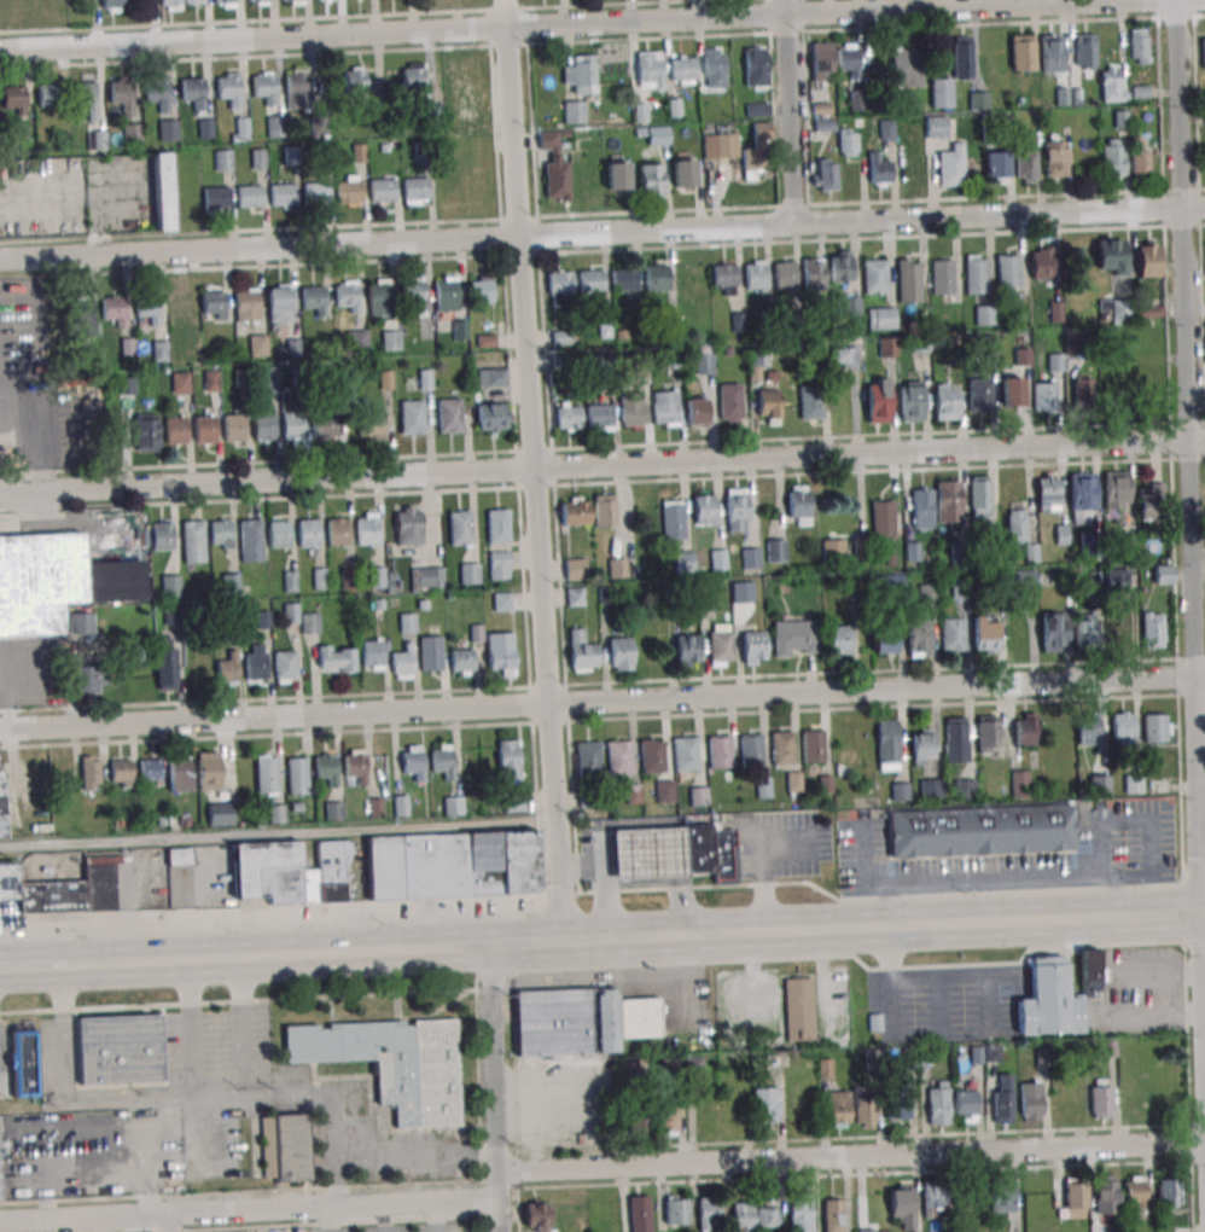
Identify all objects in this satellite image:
building: (193, 2)
building: (223, 2)
building: (257, 2)
building: (292, 2)
building: (111, 5)
building: (169, 5)
road: (587, 23)
building: (1139, 46)
building: (1084, 50)
building: (1021, 52)
building: (1203, 52)
building: (1050, 53)
building: (962, 57)
building: (848, 60)
building: (822, 62)
building: (756, 66)
building: (906, 66)
building: (715, 68)
building: (683, 69)
building: (650, 70)
building: (581, 74)
building: (413, 76)
building: (1112, 77)
building: (357, 80)
building: (264, 86)
building: (229, 87)
building: (296, 88)
building: (193, 91)
building: (941, 92)
building: (157, 93)
building: (47, 95)
building: (122, 95)
building: (470, 95)
building: (87, 97)
building: (14, 99)
building: (856, 99)
building: (979, 99)
road: (790, 110)
building: (574, 111)
building: (274, 126)
building: (936, 126)
building: (205, 128)
building: (167, 129)
building: (239, 129)
building: (132, 133)
building: (658, 135)
building: (97, 139)
building: (848, 143)
building: (721, 146)
building: (1139, 153)
building: (1054, 155)
building: (1112, 157)
building: (222, 161)
building: (951, 165)
building: (1026, 165)
building: (996, 167)
building: (554, 168)
building: (879, 169)
building: (683, 170)
building: (617, 173)
building: (823, 174)
building: (651, 179)
building: (349, 190)
building: (383, 190)
building: (162, 191)
building: (415, 191)
building: (316, 193)
building: (249, 196)
building: (283, 196)
building: (215, 197)
road: (601, 232)
building: (1110, 256)
building: (1148, 258)
building: (1041, 262)
building: (840, 265)
building: (1007, 271)
building: (814, 273)
building: (786, 274)
building: (976, 274)
building: (756, 275)
building: (875, 275)
building: (656, 277)
building: (942, 277)
building: (726, 278)
building: (624, 279)
building: (908, 279)
building: (592, 283)
building: (560, 284)
building: (481, 289)
building: (414, 294)
building: (348, 295)
building: (447, 295)
building: (315, 298)
building: (379, 298)
building: (280, 303)
building: (180, 304)
building: (214, 304)
building: (246, 304)
building: (851, 306)
building: (147, 308)
building: (115, 309)
building: (1147, 309)
building: (1118, 310)
building: (983, 314)
building: (85, 318)
building: (881, 318)
building: (257, 344)
building: (887, 347)
building: (161, 350)
building: (844, 358)
building: (758, 359)
building: (706, 364)
building: (493, 377)
building: (267, 379)
building: (211, 380)
building: (180, 382)
building: (127, 385)
building: (1011, 391)
building: (1082, 391)
building: (979, 394)
building: (1044, 396)
building: (878, 400)
building: (910, 401)
building: (945, 401)
building: (729, 402)
building: (811, 402)
building: (768, 406)
building: (666, 407)
building: (633, 411)
building: (697, 411)
building: (449, 415)
building: (569, 415)
building: (599, 415)
building: (412, 417)
building: (490, 417)
building: (292, 425)
building: (369, 425)
building: (263, 426)
building: (324, 426)
building: (205, 428)
building: (234, 428)
building: (176, 430)
building: (145, 431)
road: (30, 440)
road: (601, 463)
road: (536, 470)
building: (1116, 489)
building: (1047, 492)
building: (979, 496)
building: (1081, 496)
building: (948, 500)
building: (1149, 501)
building: (799, 505)
building: (704, 507)
building: (921, 507)
building: (574, 510)
building: (604, 510)
building: (737, 510)
road: (1189, 510)
building: (883, 517)
building: (673, 519)
building: (408, 525)
building: (497, 525)
building: (367, 528)
building: (459, 528)
building: (337, 531)
building: (308, 533)
building: (221, 534)
building: (279, 534)
building: (162, 535)
building: (1020, 535)
building: (251, 540)
building: (193, 541)
building: (776, 550)
building: (832, 551)
building: (750, 558)
building: (683, 560)
building: (717, 560)
building: (499, 565)
building: (616, 568)
building: (575, 569)
building: (468, 573)
building: (1163, 574)
building: (320, 579)
building: (426, 579)
building: (1020, 579)
building: (1114, 579)
building: (887, 582)
building: (229, 583)
building: (59, 585)
building: (170, 586)
building: (960, 588)
building: (926, 592)
building: (575, 595)
building: (502, 602)
building: (290, 610)
building: (407, 622)
building: (309, 624)
building: (1152, 629)
building: (1084, 630)
building: (1053, 632)
building: (953, 633)
building: (985, 634)
building: (918, 637)
building: (794, 638)
building: (839, 640)
building: (883, 640)
building: (720, 645)
building: (752, 647)
building: (686, 650)
building: (582, 652)
building: (372, 653)
building: (430, 653)
building: (500, 653)
building: (621, 653)
building: (337, 658)
building: (461, 661)
building: (255, 662)
building: (403, 662)
building: (228, 667)
building: (285, 667)
building: (167, 668)
building: (91, 679)
road: (601, 702)
road: (1200, 705)
building: (1123, 723)
building: (1155, 727)
building: (1025, 728)
building: (1088, 728)
building: (986, 733)
building: (956, 739)
building: (886, 744)
building: (813, 745)
building: (922, 745)
building: (781, 748)
building: (751, 750)
building: (718, 751)
building: (685, 754)
building: (651, 756)
building: (618, 757)
building: (507, 759)
building: (588, 759)
building: (442, 760)
building: (413, 761)
building: (355, 766)
building: (326, 767)
building: (149, 769)
building: (208, 771)
building: (89, 772)
building: (121, 773)
building: (181, 773)
building: (266, 774)
building: (297, 775)
building: (1019, 783)
building: (1099, 784)
building: (763, 788)
building: (930, 789)
building: (664, 790)
building: (900, 791)
building: (634, 795)
building: (698, 796)
building: (452, 804)
building: (513, 804)
building: (400, 806)
building: (1, 810)
building: (333, 810)
building: (220, 814)
building: (980, 830)
road: (276, 833)
road: (1201, 838)
building: (700, 847)
building: (652, 852)
building: (726, 854)
building: (177, 856)
building: (454, 865)
building: (291, 872)
building: (63, 889)
road: (607, 889)
road: (845, 926)
road: (290, 953)
road: (46, 967)
building: (1055, 995)
building: (798, 1009)
building: (580, 1021)
road: (245, 1028)
road: (190, 1030)
building: (121, 1050)
building: (25, 1062)
building: (392, 1064)
road: (493, 1088)
building: (1100, 1098)
building: (897, 1099)
building: (1002, 1100)
road: (175, 1102)
building: (938, 1102)
building: (1031, 1102)
building: (764, 1105)
building: (965, 1106)
building: (838, 1109)
building: (863, 1110)
building: (638, 1117)
building: (665, 1118)
road: (336, 1125)
building: (284, 1147)
road: (389, 1153)
road: (850, 1155)
building: (1135, 1191)
building: (1170, 1192)
building: (1105, 1193)
building: (1001, 1196)
building: (1075, 1196)
building: (935, 1199)
building: (902, 1205)
road: (249, 1210)
building: (676, 1210)
building: (636, 1214)
building: (708, 1214)
building: (801, 1215)
building: (832, 1215)
building: (536, 1216)
building: (768, 1216)
building: (744, 1218)
road: (30, 1227)
building: (869, 1230)

